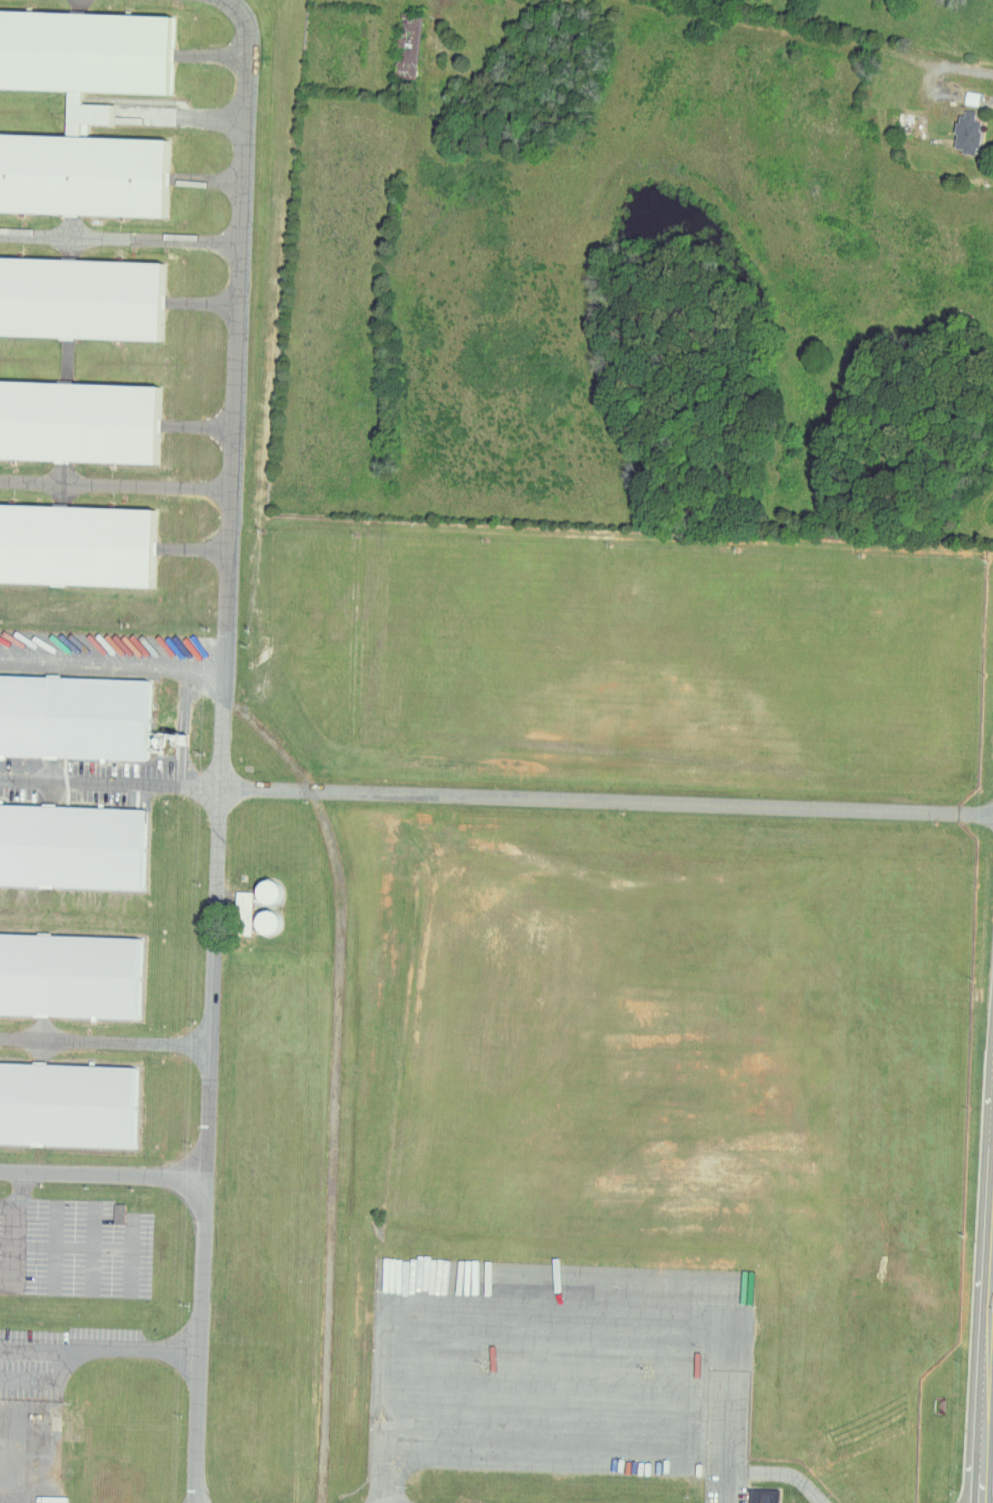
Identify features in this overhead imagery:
building: (83, 57)
road: (974, 92)
building: (964, 133)
building: (81, 175)
road: (125, 230)
building: (78, 298)
building: (77, 422)
road: (119, 482)
building: (75, 545)
building: (74, 718)
road: (229, 749)
road: (496, 794)
building: (71, 847)
building: (262, 894)
road: (246, 914)
building: (258, 923)
building: (69, 974)
road: (109, 1041)
building: (67, 1103)
road: (107, 1170)
road: (16, 1212)
road: (137, 1344)
road: (38, 1345)
road: (49, 1385)
road: (990, 1432)
road: (768, 1474)
building: (760, 1495)

